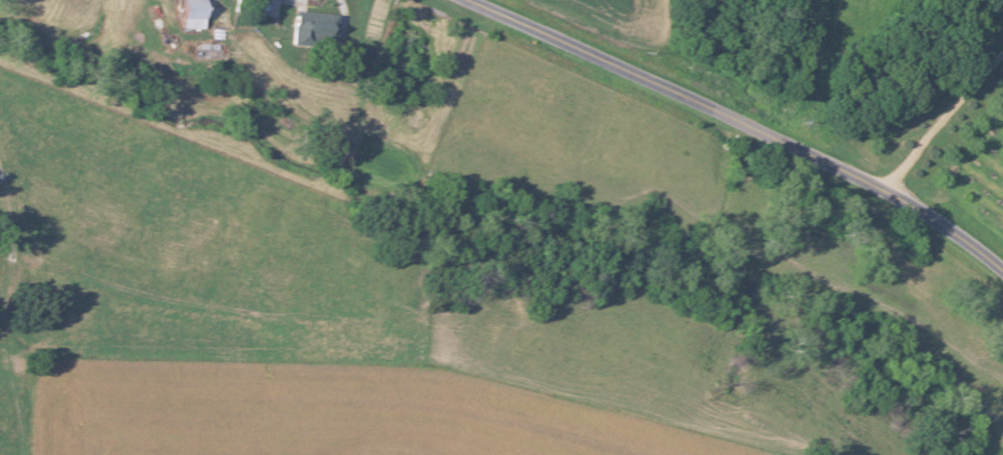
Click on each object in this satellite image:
building: (183, 13)
building: (306, 28)
road: (937, 115)
road: (741, 124)

